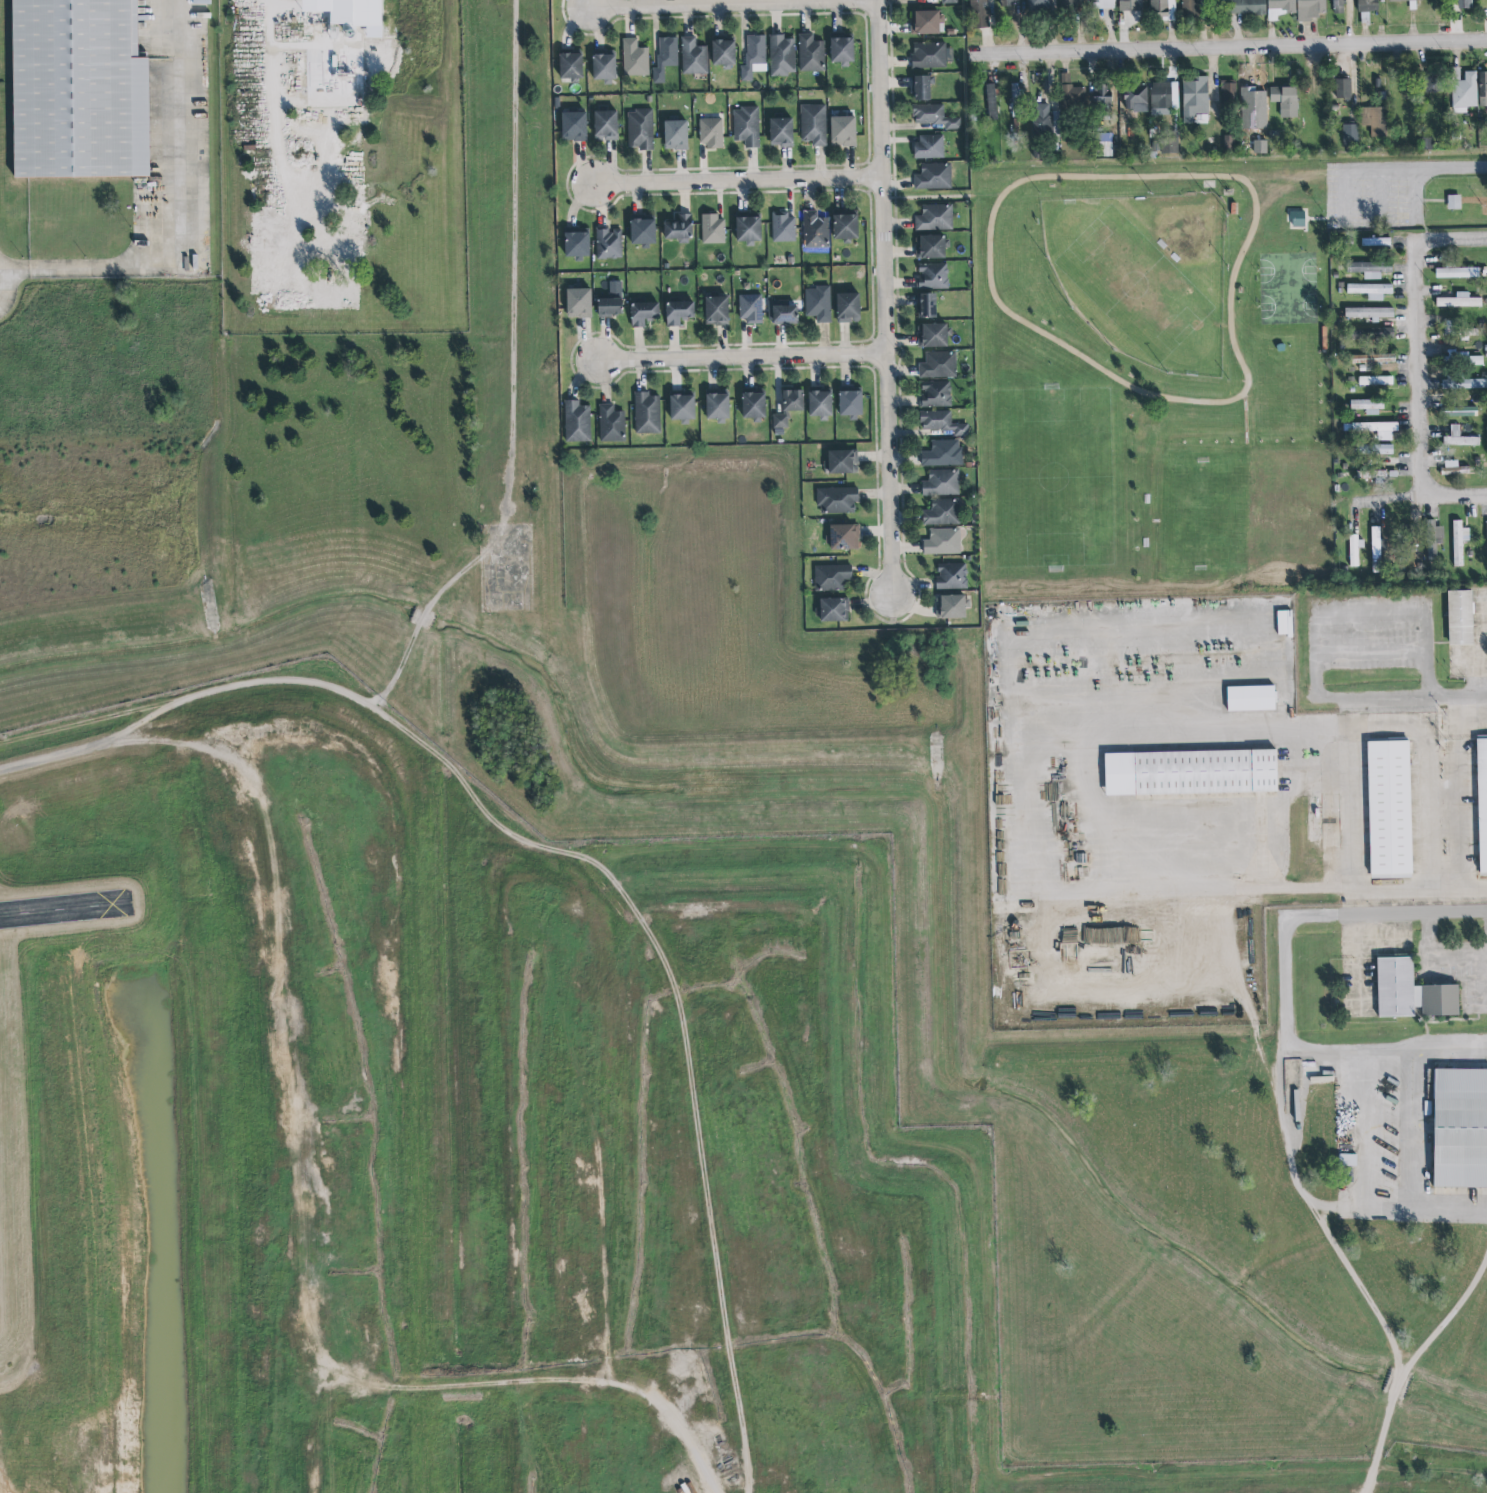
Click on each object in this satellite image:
road: (731, 2)
building: (949, 2)
building: (1009, 2)
building: (1463, 3)
building: (1103, 4)
road: (264, 5)
building: (1039, 5)
building: (1069, 5)
building: (1130, 5)
building: (1367, 5)
building: (1243, 6)
building: (1338, 6)
building: (1412, 6)
building: (1279, 7)
building: (1190, 8)
building: (1308, 8)
building: (1163, 9)
building: (347, 11)
building: (979, 14)
building: (1484, 14)
building: (925, 20)
road: (1228, 48)
building: (722, 49)
building: (842, 50)
building: (810, 54)
building: (752, 55)
building: (931, 55)
building: (781, 56)
building: (634, 57)
building: (693, 57)
building: (665, 58)
building: (570, 64)
building: (603, 64)
building: (1432, 82)
building: (921, 84)
building: (1482, 88)
building: (79, 89)
building: (1343, 89)
building: (1070, 91)
building: (1228, 93)
building: (1465, 93)
building: (1163, 94)
building: (1194, 96)
building: (1102, 99)
building: (1135, 99)
building: (1016, 100)
building: (1285, 101)
building: (991, 102)
building: (933, 114)
building: (1041, 121)
building: (1374, 121)
building: (812, 123)
building: (573, 124)
building: (606, 126)
building: (745, 126)
building: (640, 128)
building: (781, 132)
building: (843, 132)
building: (675, 133)
building: (710, 133)
building: (1350, 135)
building: (1228, 143)
building: (1106, 145)
building: (927, 146)
building: (1169, 146)
building: (1259, 147)
road: (1408, 169)
building: (933, 177)
road: (734, 179)
parking lot: (1375, 193)
road: (926, 197)
building: (1454, 201)
road: (184, 216)
building: (934, 216)
building: (1297, 220)
road: (1254, 224)
building: (678, 227)
building: (846, 227)
building: (711, 228)
building: (783, 228)
building: (748, 229)
building: (814, 231)
building: (576, 241)
building: (1375, 241)
building: (607, 243)
building: (930, 244)
building: (1369, 269)
building: (1457, 272)
park: (1145, 274)
building: (931, 275)
building: (614, 287)
park: (1290, 287)
building: (1370, 290)
road: (884, 298)
building: (1459, 300)
building: (579, 302)
building: (818, 303)
building: (925, 303)
building: (610, 307)
building: (848, 307)
building: (750, 308)
building: (717, 310)
building: (643, 311)
building: (679, 312)
building: (1368, 312)
building: (785, 314)
building: (932, 332)
building: (1370, 334)
road: (741, 356)
building: (1373, 358)
building: (1462, 358)
park: (1172, 362)
building: (937, 365)
road: (1421, 366)
road: (509, 379)
building: (1375, 380)
building: (1464, 384)
building: (935, 394)
building: (849, 400)
building: (820, 404)
building: (717, 405)
building: (753, 406)
building: (787, 406)
building: (1367, 406)
building: (682, 407)
building: (1460, 411)
building: (646, 413)
building: (576, 422)
building: (941, 422)
building: (610, 423)
building: (1377, 429)
building: (1459, 438)
building: (1373, 448)
building: (942, 453)
building: (840, 460)
building: (1453, 468)
building: (940, 482)
building: (836, 500)
building: (941, 513)
building: (842, 535)
building: (1432, 538)
building: (942, 542)
building: (1459, 542)
building: (1354, 549)
building: (1376, 549)
building: (950, 576)
building: (831, 577)
building: (951, 605)
building: (833, 609)
road: (1370, 616)
building: (1460, 618)
building: (1284, 622)
road: (1371, 652)
road: (1402, 696)
building: (1251, 698)
road: (1309, 724)
building: (1191, 772)
building: (1482, 802)
road: (1454, 805)
building: (1390, 809)
road: (1333, 910)
road: (453, 975)
building: (1411, 991)
road: (1449, 1050)
building: (1460, 1129)
road: (966, 1154)
road: (717, 1161)
road: (1403, 1196)

